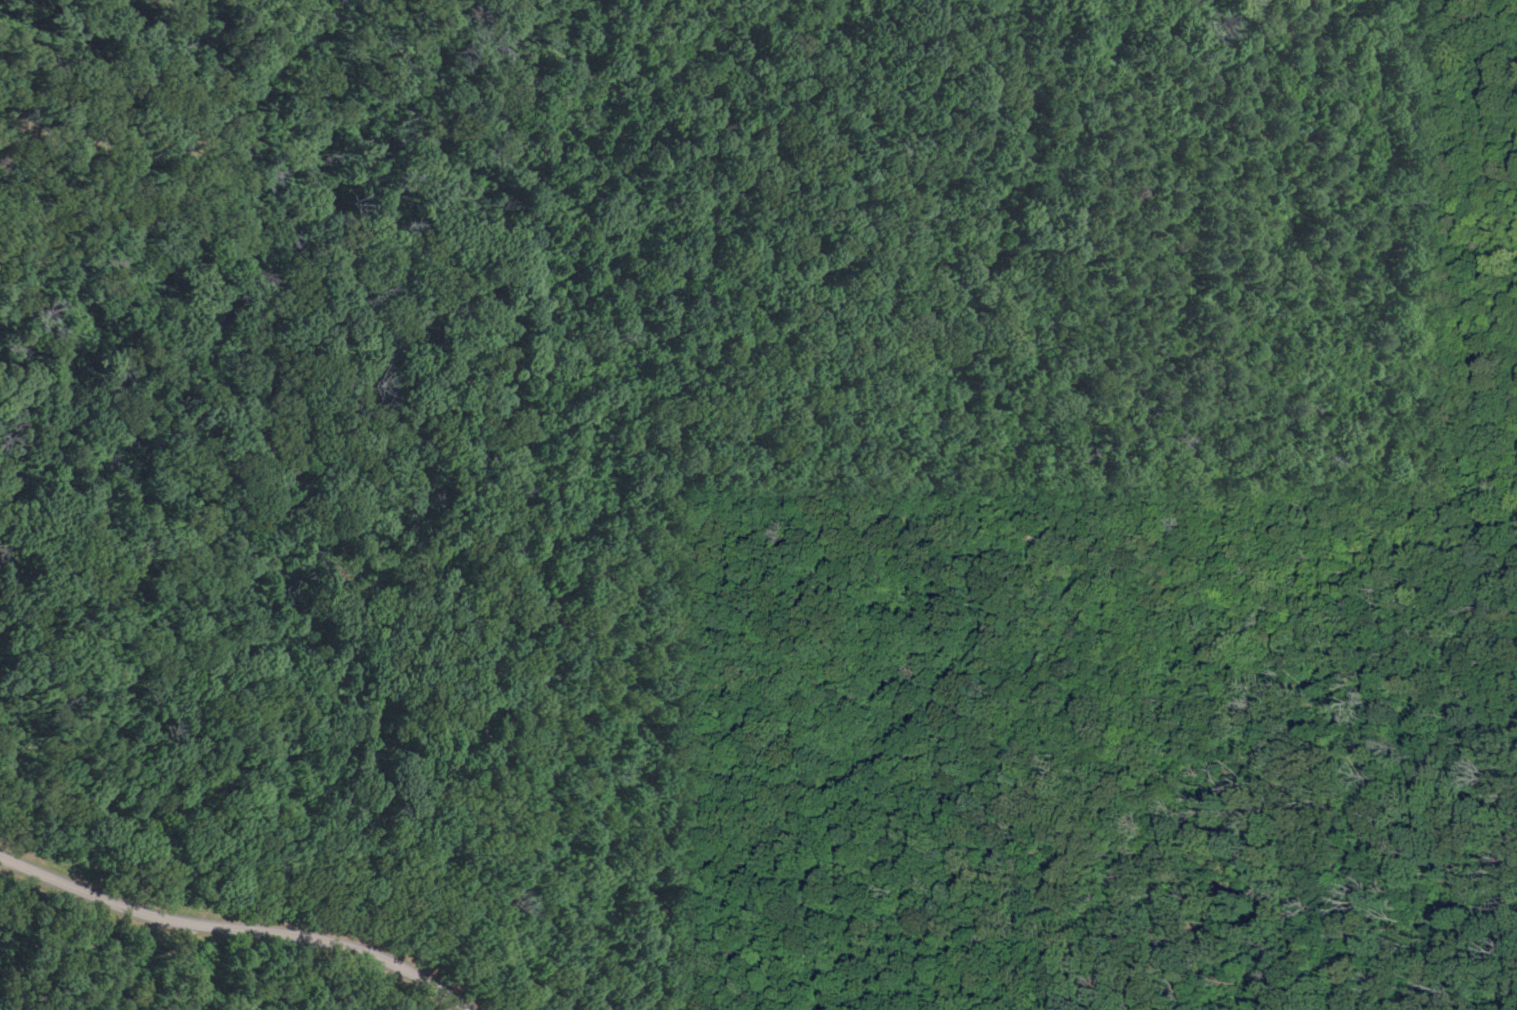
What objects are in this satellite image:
road: (1198, 520)
road: (239, 927)

